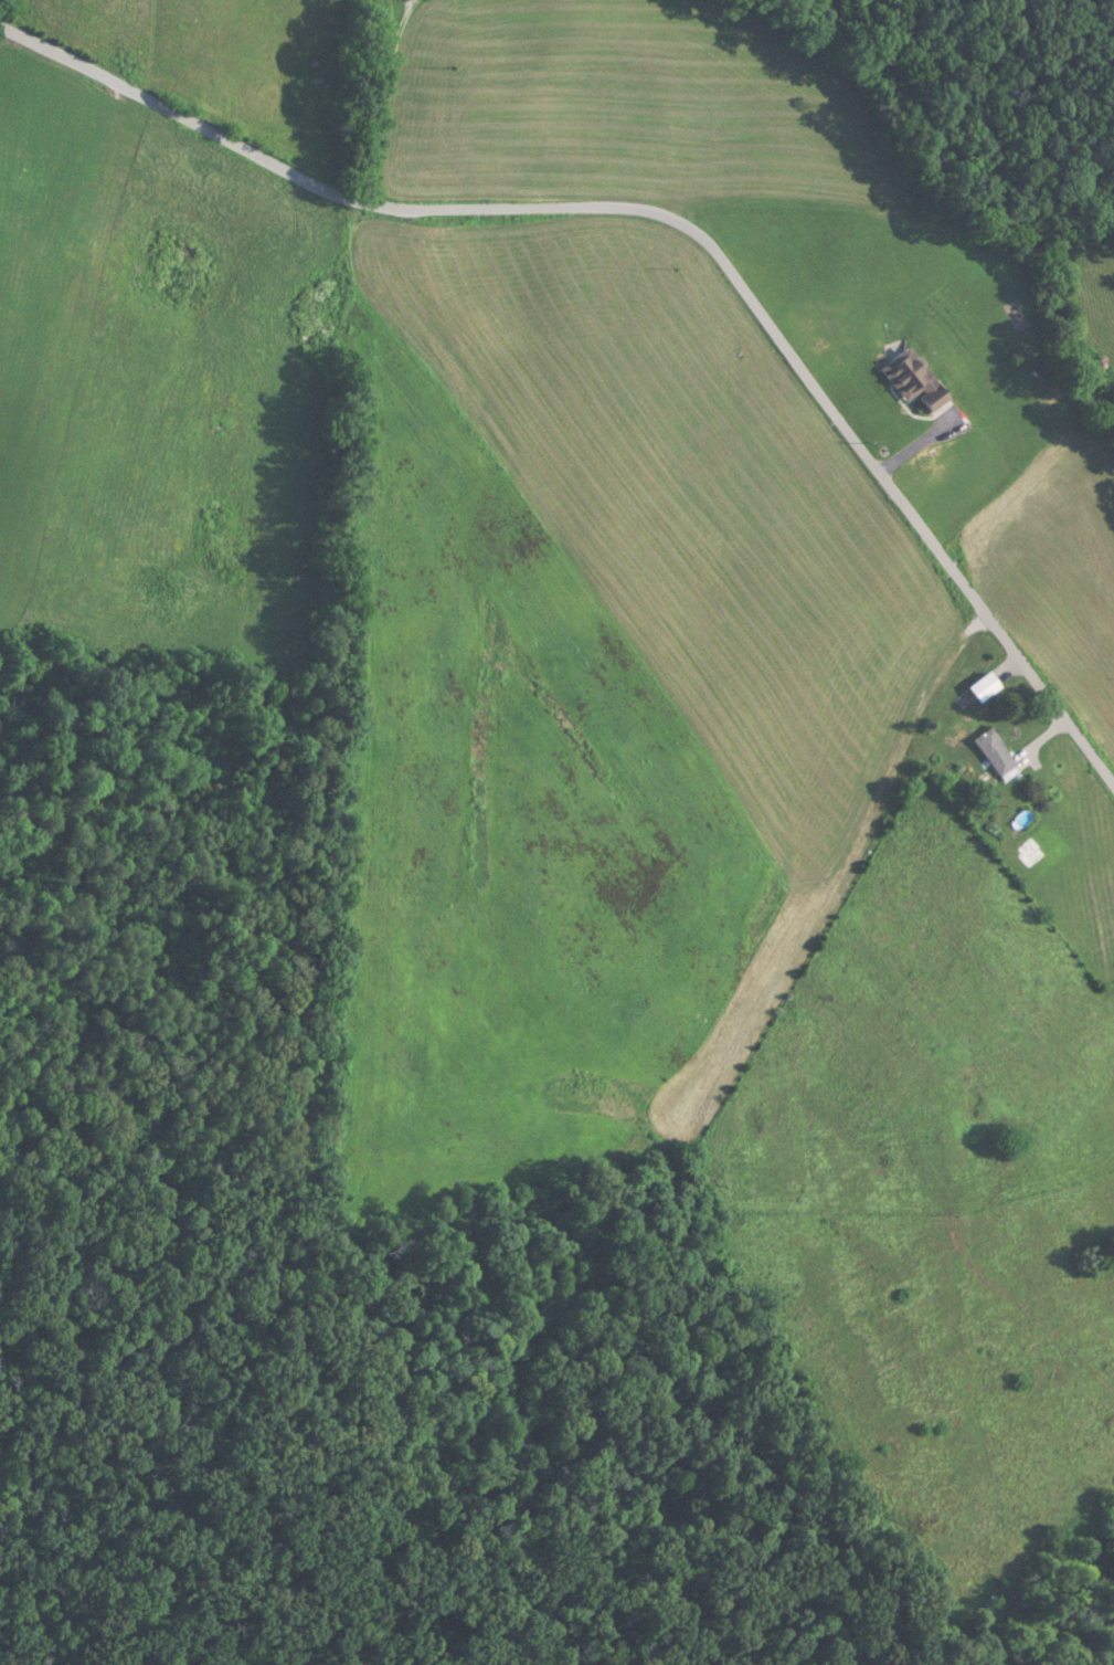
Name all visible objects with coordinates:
road: (667, 263)
building: (910, 387)
building: (976, 686)
building: (989, 754)

